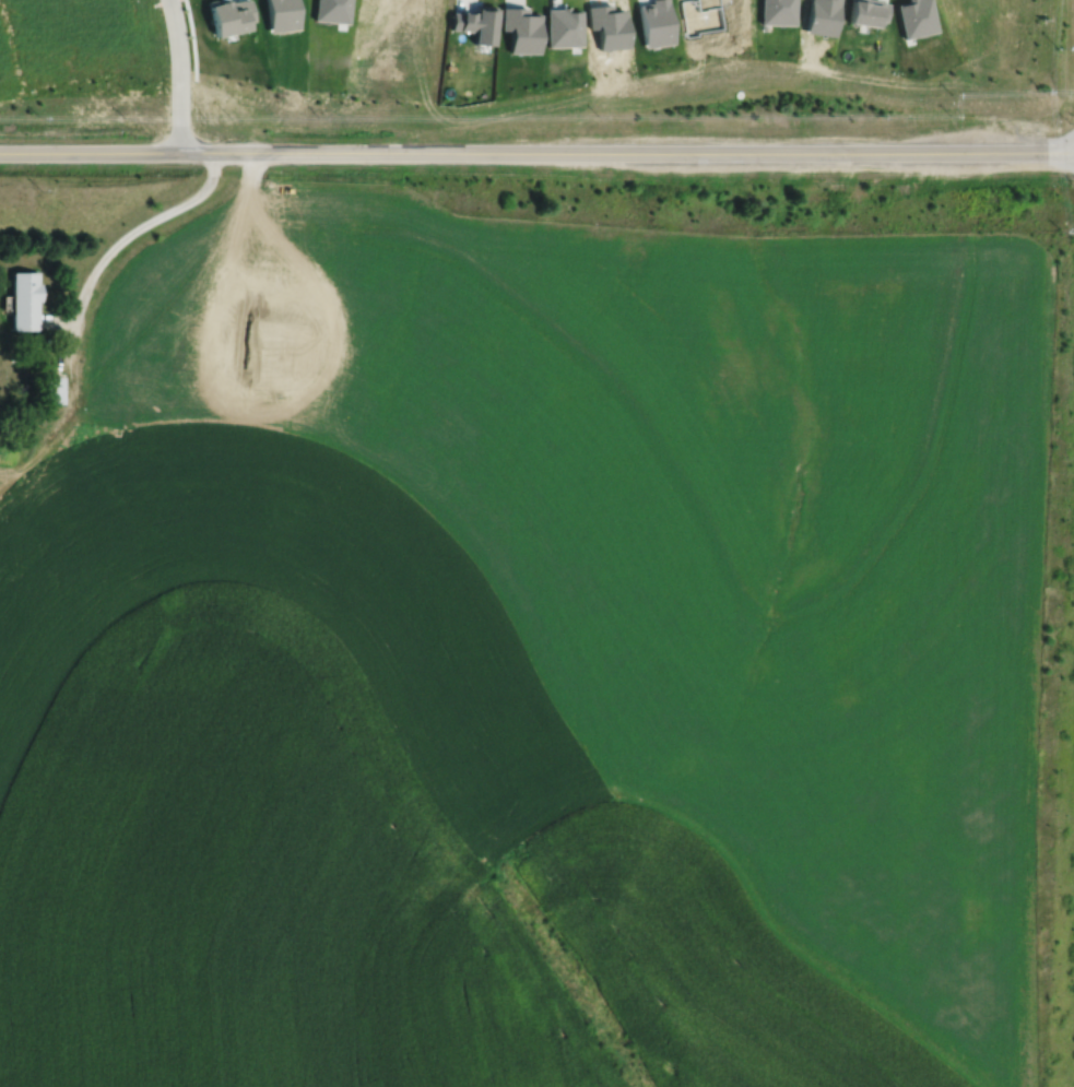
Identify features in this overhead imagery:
building: (333, 11)
building: (775, 11)
building: (869, 11)
building: (282, 13)
building: (231, 16)
building: (704, 16)
building: (914, 16)
building: (823, 19)
building: (657, 23)
building: (477, 24)
building: (565, 27)
building: (523, 31)
building: (611, 31)
road: (179, 75)
road: (536, 152)
road: (138, 227)
building: (24, 299)
road: (60, 322)
road: (71, 342)
building: (52, 389)

